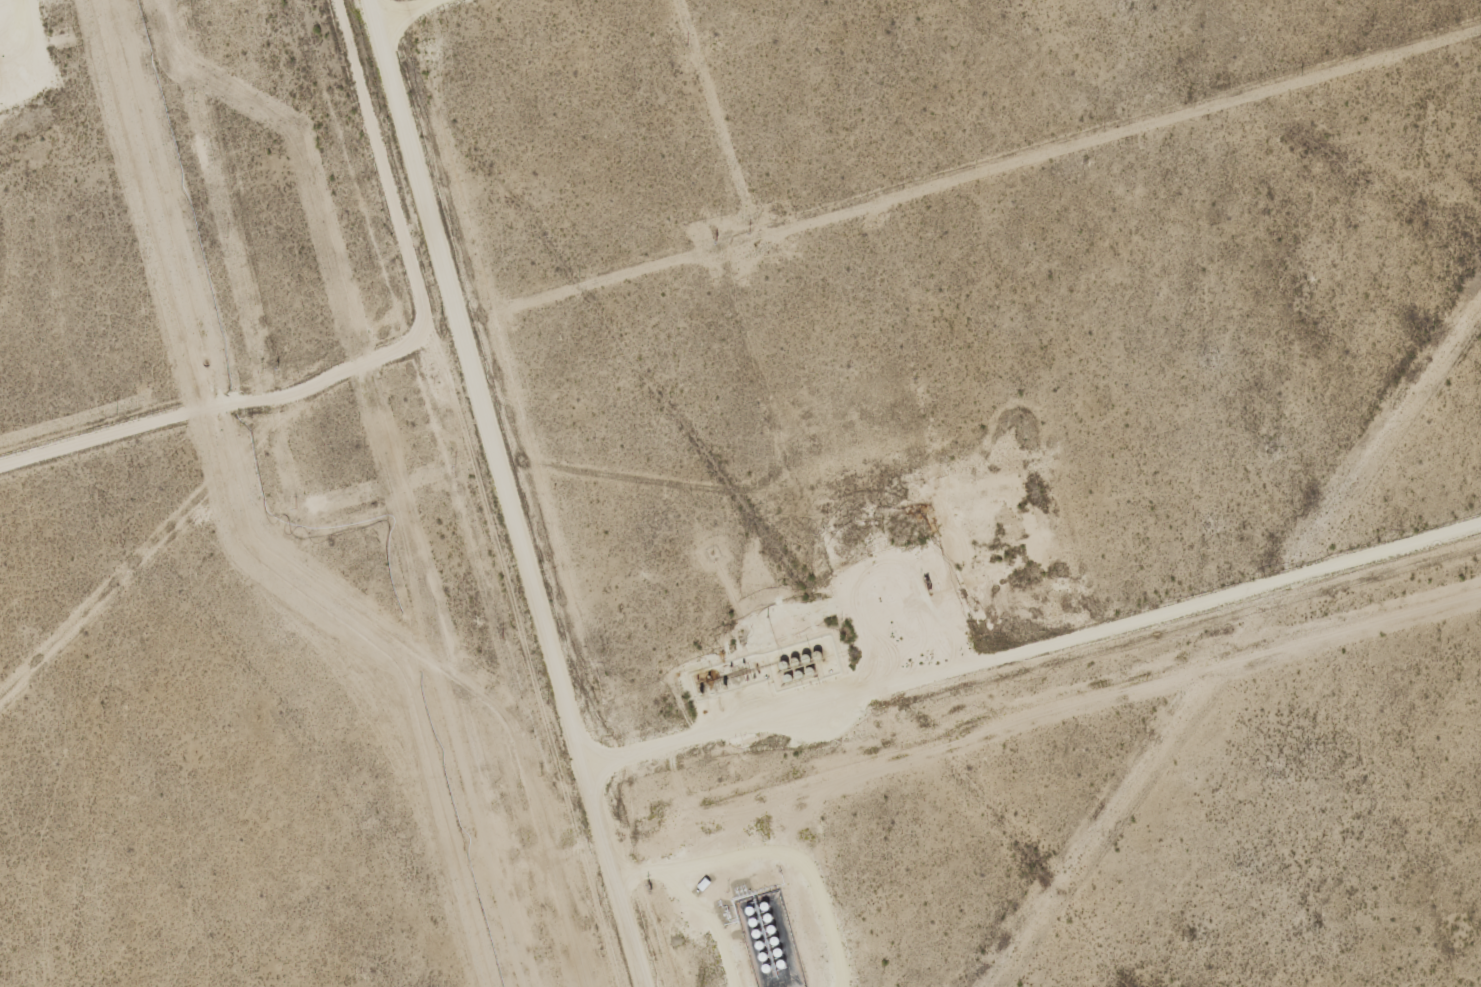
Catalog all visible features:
road: (502, 493)
road: (1029, 639)

